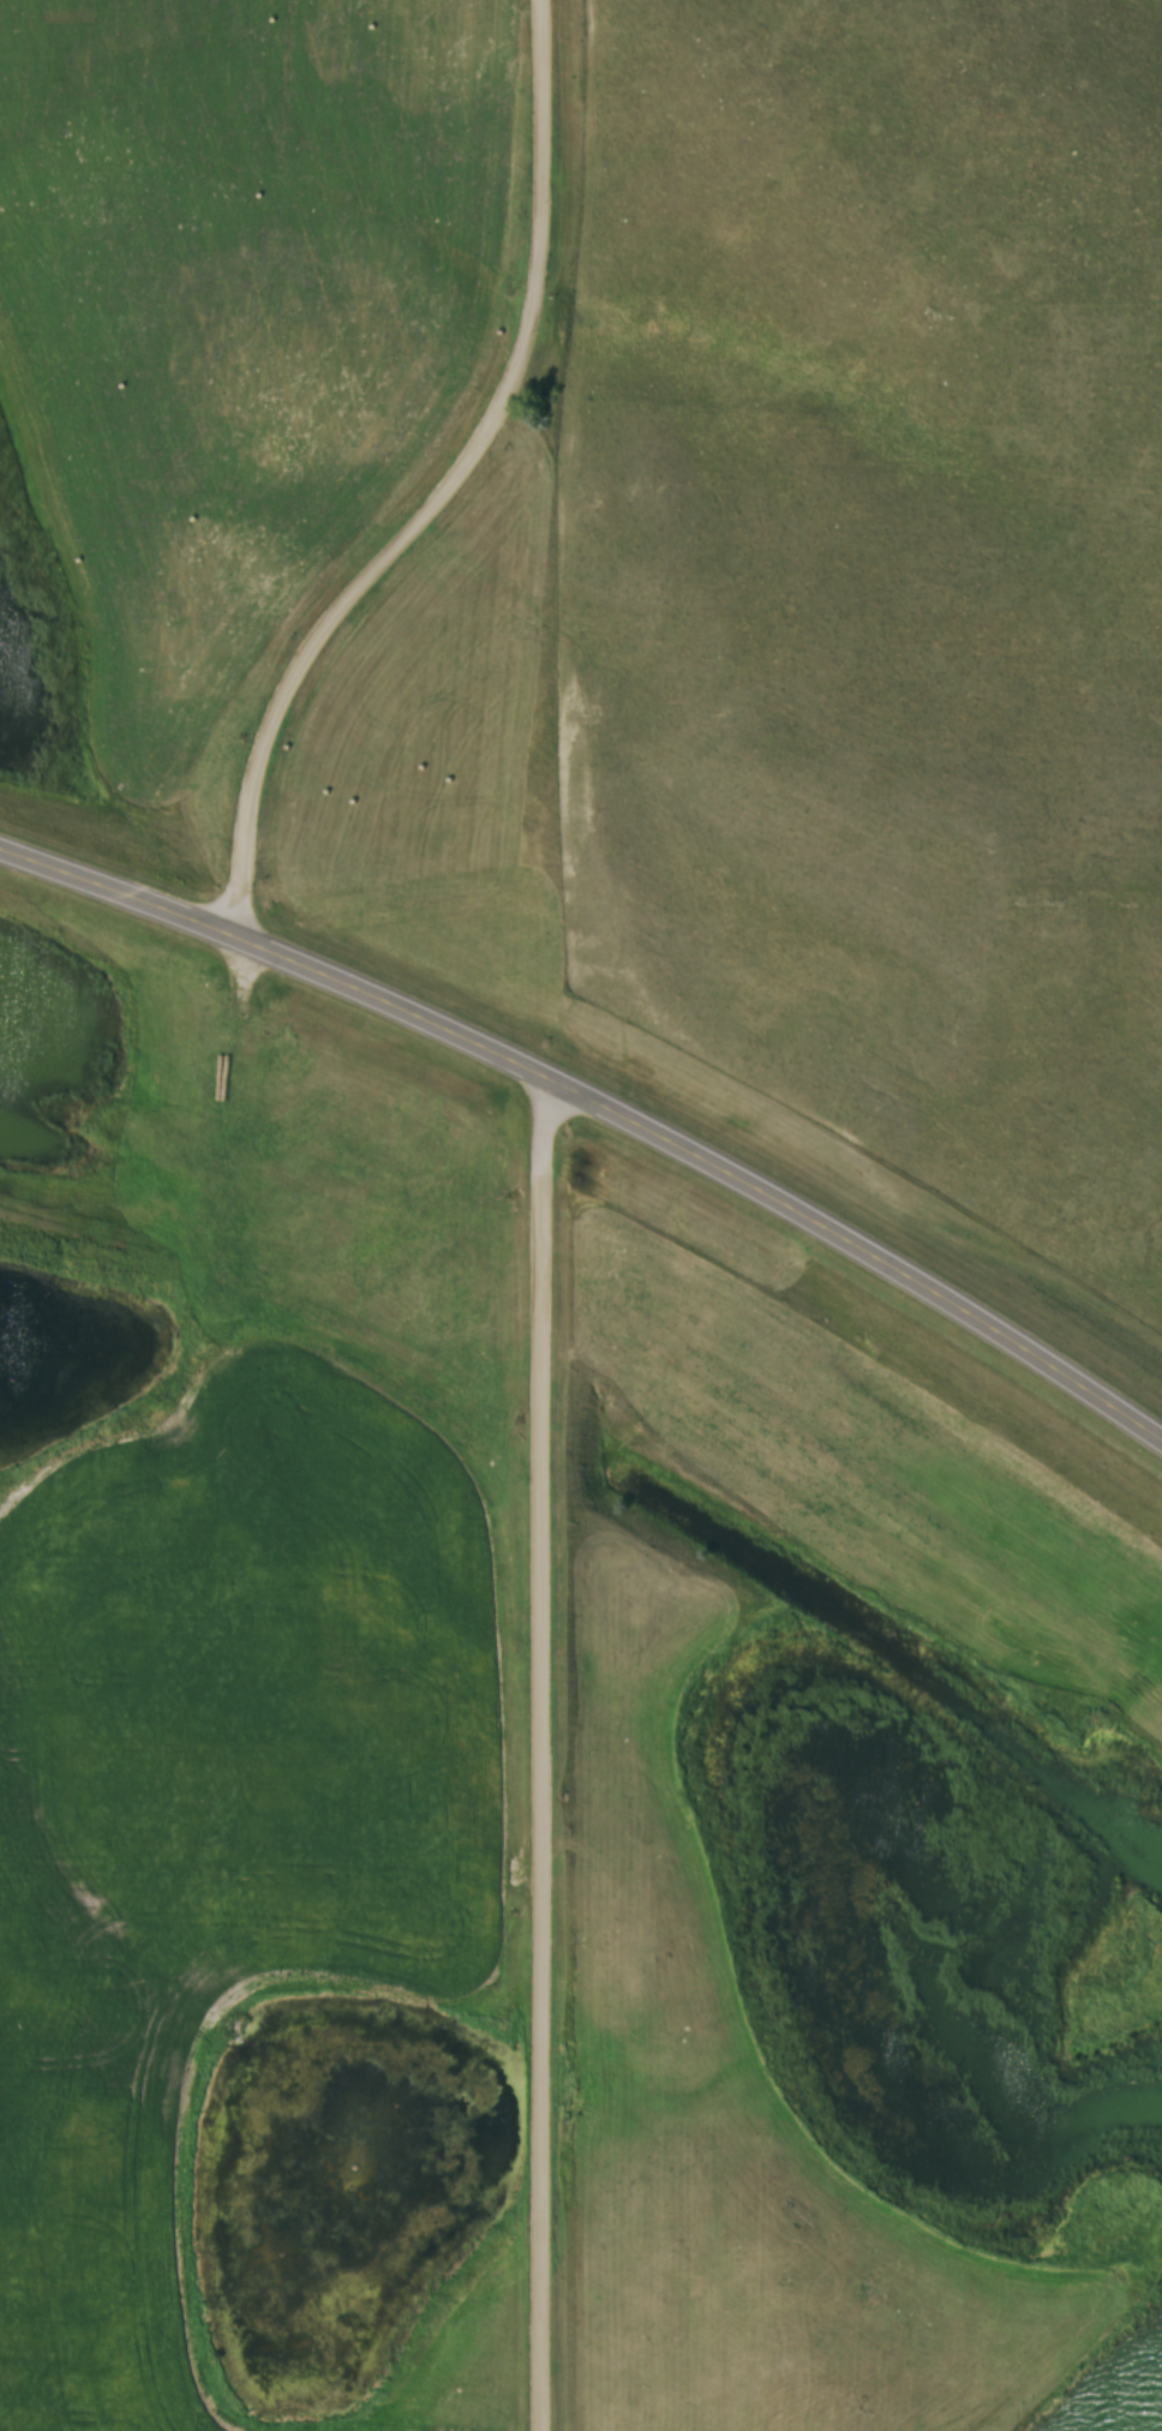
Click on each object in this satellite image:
road: (439, 483)
road: (600, 1107)
road: (541, 1754)

